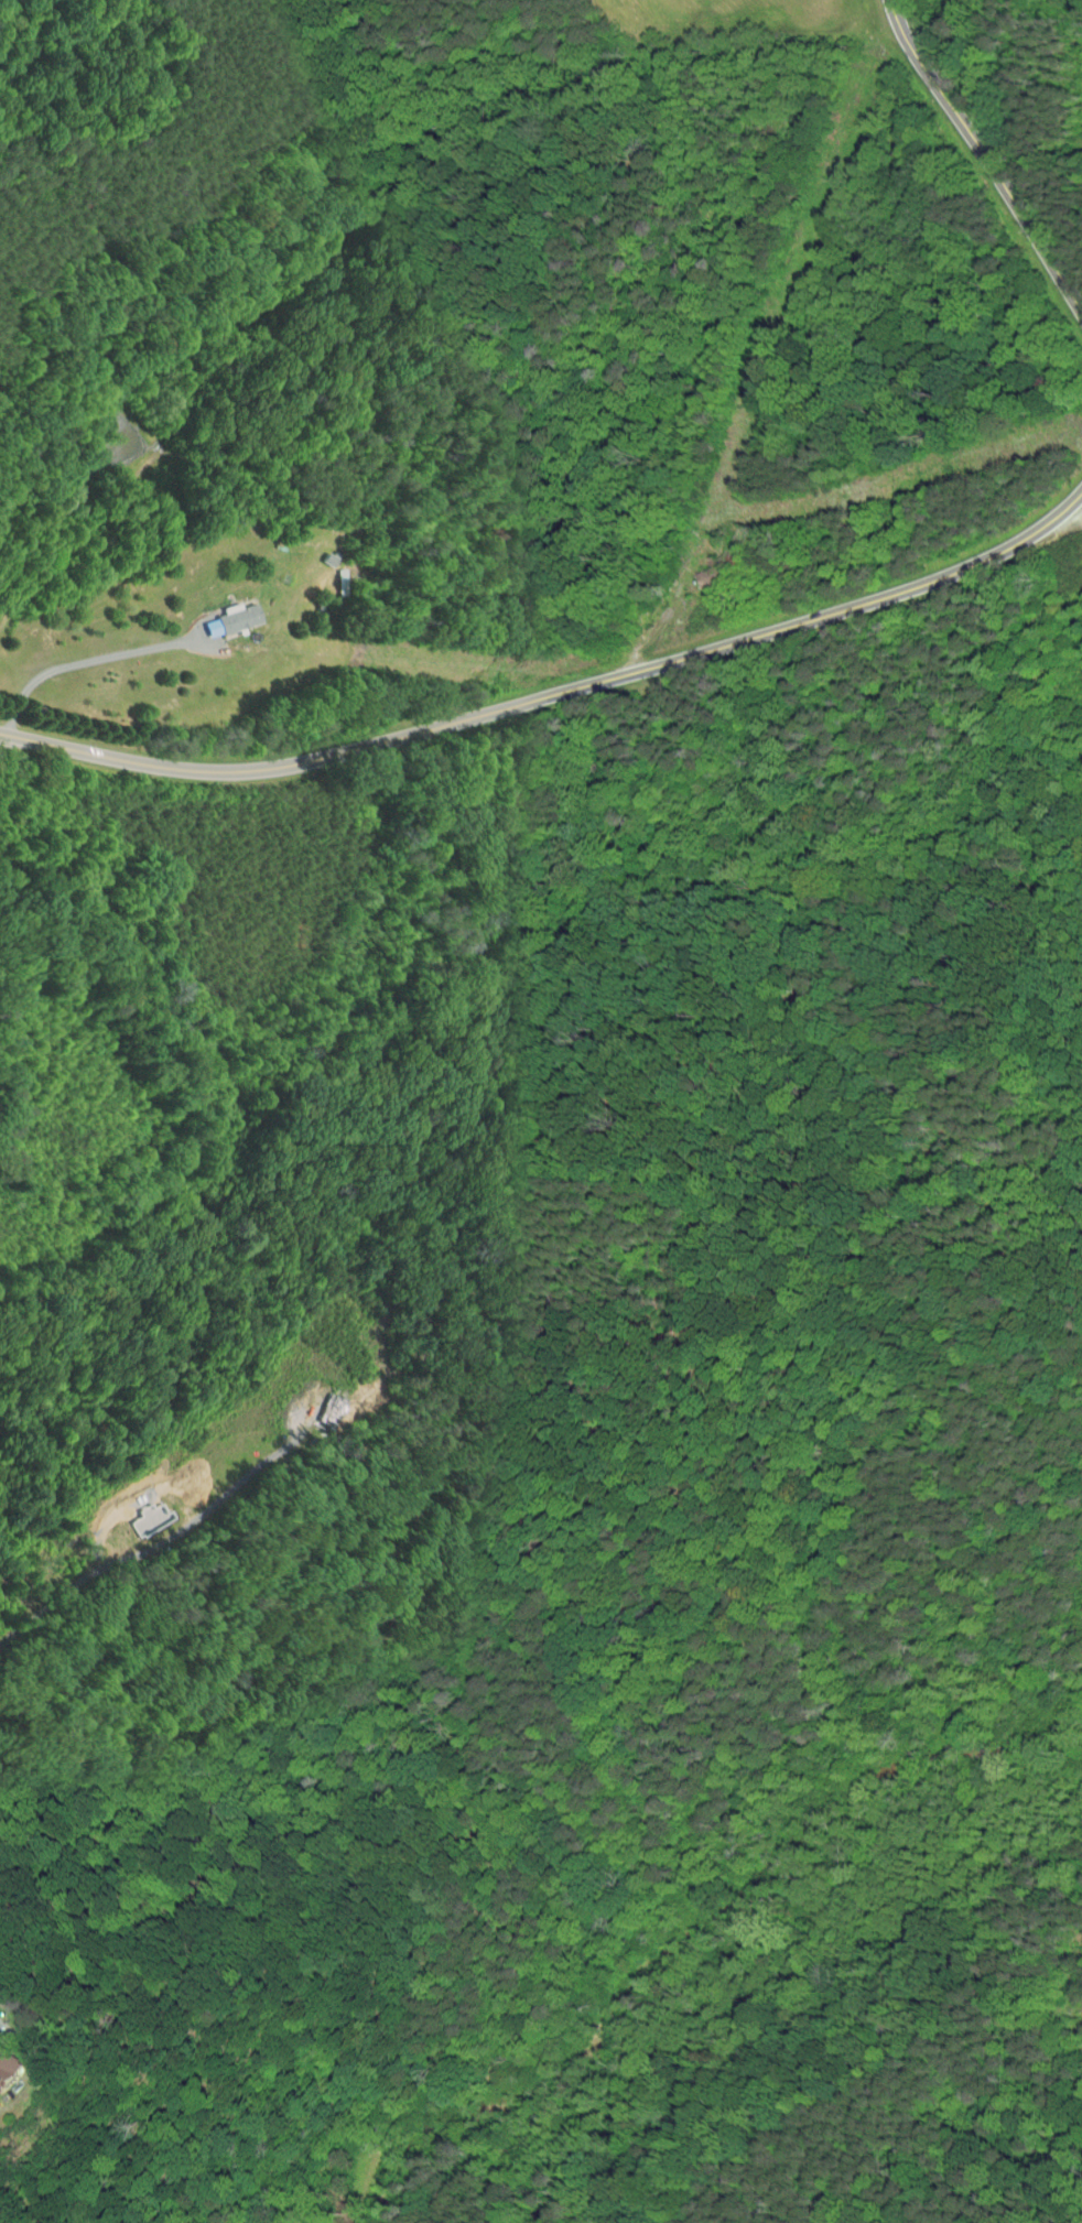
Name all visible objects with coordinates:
road: (986, 161)
building: (223, 610)
road: (86, 660)
road: (555, 693)
building: (2, 2057)

